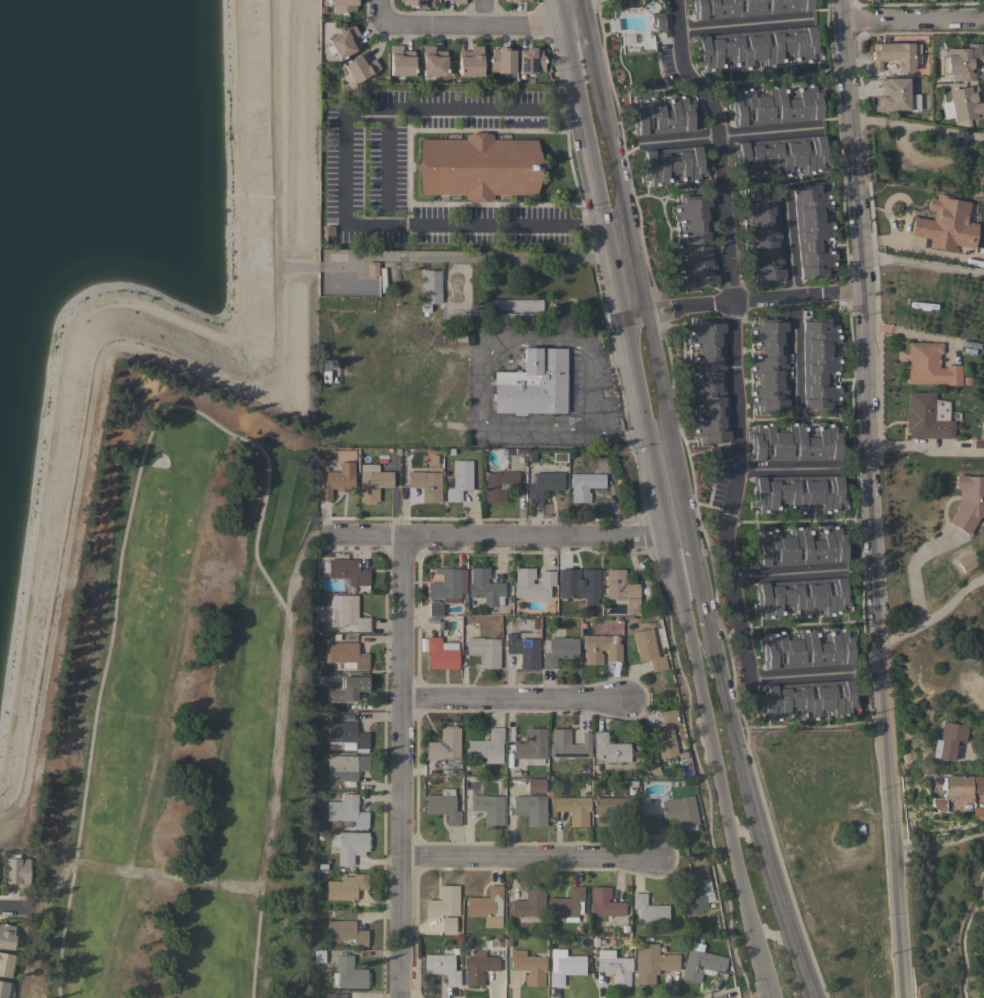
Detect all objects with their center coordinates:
building: (515, 0)
building: (458, 1)
building: (414, 3)
building: (343, 6)
building: (745, 7)
road: (484, 12)
road: (583, 13)
road: (911, 18)
building: (658, 21)
road: (472, 24)
road: (746, 28)
building: (344, 42)
building: (756, 47)
building: (892, 55)
road: (593, 58)
building: (501, 60)
building: (530, 60)
building: (400, 61)
building: (432, 61)
building: (470, 61)
building: (960, 61)
building: (359, 66)
building: (892, 95)
building: (912, 101)
building: (961, 104)
building: (776, 105)
road: (469, 108)
building: (662, 115)
road: (729, 135)
building: (780, 156)
road: (344, 165)
building: (673, 165)
building: (478, 166)
road: (386, 168)
road: (623, 200)
building: (944, 224)
road: (487, 226)
building: (813, 231)
building: (763, 236)
building: (695, 242)
road: (496, 254)
road: (921, 262)
road: (614, 267)
building: (371, 268)
building: (430, 288)
road: (793, 297)
road: (772, 299)
road: (664, 302)
building: (537, 311)
building: (454, 312)
road: (635, 313)
road: (664, 314)
road: (735, 334)
road: (915, 334)
building: (969, 344)
road: (619, 355)
building: (820, 363)
building: (769, 364)
building: (930, 365)
building: (708, 381)
building: (533, 383)
road: (483, 391)
road: (587, 392)
road: (197, 410)
building: (925, 418)
road: (788, 419)
road: (666, 422)
road: (635, 433)
building: (795, 442)
building: (971, 443)
road: (927, 447)
building: (404, 455)
building: (433, 459)
road: (787, 471)
building: (459, 480)
building: (336, 481)
building: (372, 482)
building: (544, 484)
building: (426, 485)
building: (499, 485)
building: (584, 485)
building: (798, 493)
road: (871, 498)
building: (968, 502)
road: (507, 535)
building: (800, 546)
building: (965, 562)
road: (911, 569)
building: (348, 572)
road: (787, 574)
building: (532, 583)
building: (445, 584)
road: (698, 584)
building: (581, 585)
building: (619, 586)
building: (484, 588)
building: (801, 597)
building: (435, 609)
building: (347, 613)
road: (934, 615)
road: (797, 625)
building: (601, 648)
building: (648, 649)
building: (807, 649)
building: (557, 650)
building: (484, 651)
building: (523, 651)
building: (441, 654)
building: (347, 655)
road: (803, 675)
building: (347, 687)
building: (810, 699)
road: (509, 700)
park: (189, 706)
building: (347, 734)
building: (666, 734)
building: (945, 740)
building: (445, 744)
building: (569, 744)
building: (532, 746)
building: (487, 747)
building: (609, 749)
building: (345, 766)
road: (398, 766)
building: (652, 766)
road: (718, 766)
building: (536, 785)
building: (956, 788)
building: (443, 806)
building: (489, 808)
building: (531, 809)
building: (574, 809)
building: (614, 809)
building: (346, 811)
building: (681, 811)
building: (978, 813)
road: (759, 816)
building: (857, 829)
building: (349, 845)
road: (937, 845)
road: (529, 859)
building: (16, 870)
building: (345, 887)
building: (698, 889)
building: (443, 901)
building: (485, 903)
building: (605, 904)
road: (12, 905)
building: (529, 905)
building: (566, 905)
building: (649, 910)
building: (447, 924)
building: (983, 930)
building: (346, 931)
building: (6, 936)
building: (318, 955)
building: (652, 963)
building: (5, 964)
building: (701, 964)
building: (477, 966)
building: (564, 966)
building: (614, 966)
building: (442, 967)
building: (528, 967)
building: (348, 973)
building: (4, 990)
road: (813, 997)

